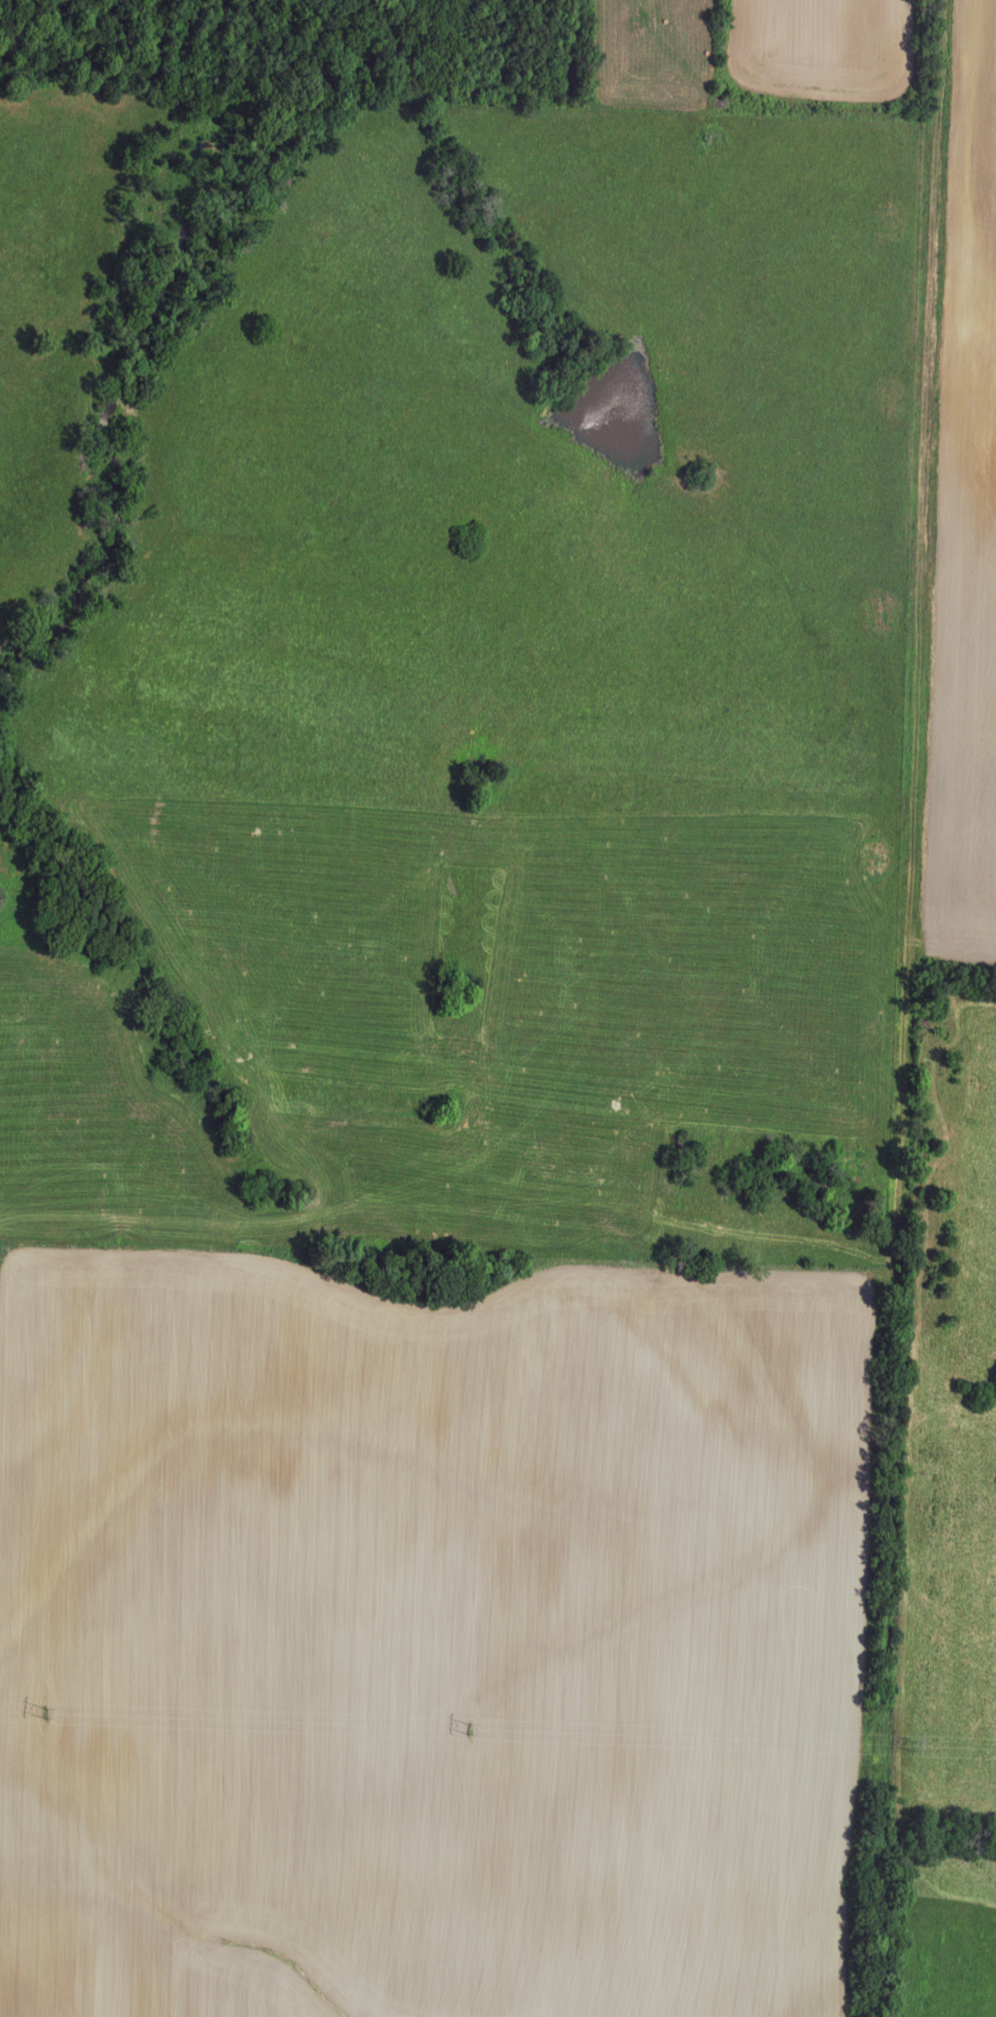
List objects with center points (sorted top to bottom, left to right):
power tower: (46, 1708)
power tower: (472, 1723)
power tower: (916, 1742)

